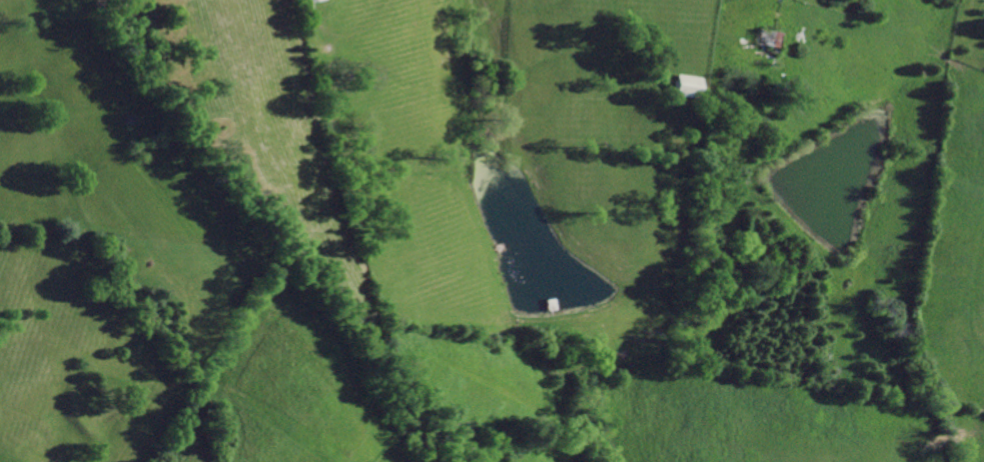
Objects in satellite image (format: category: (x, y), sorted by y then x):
building: (308, 1)
building: (770, 37)
building: (690, 86)
crop: (838, 234)

